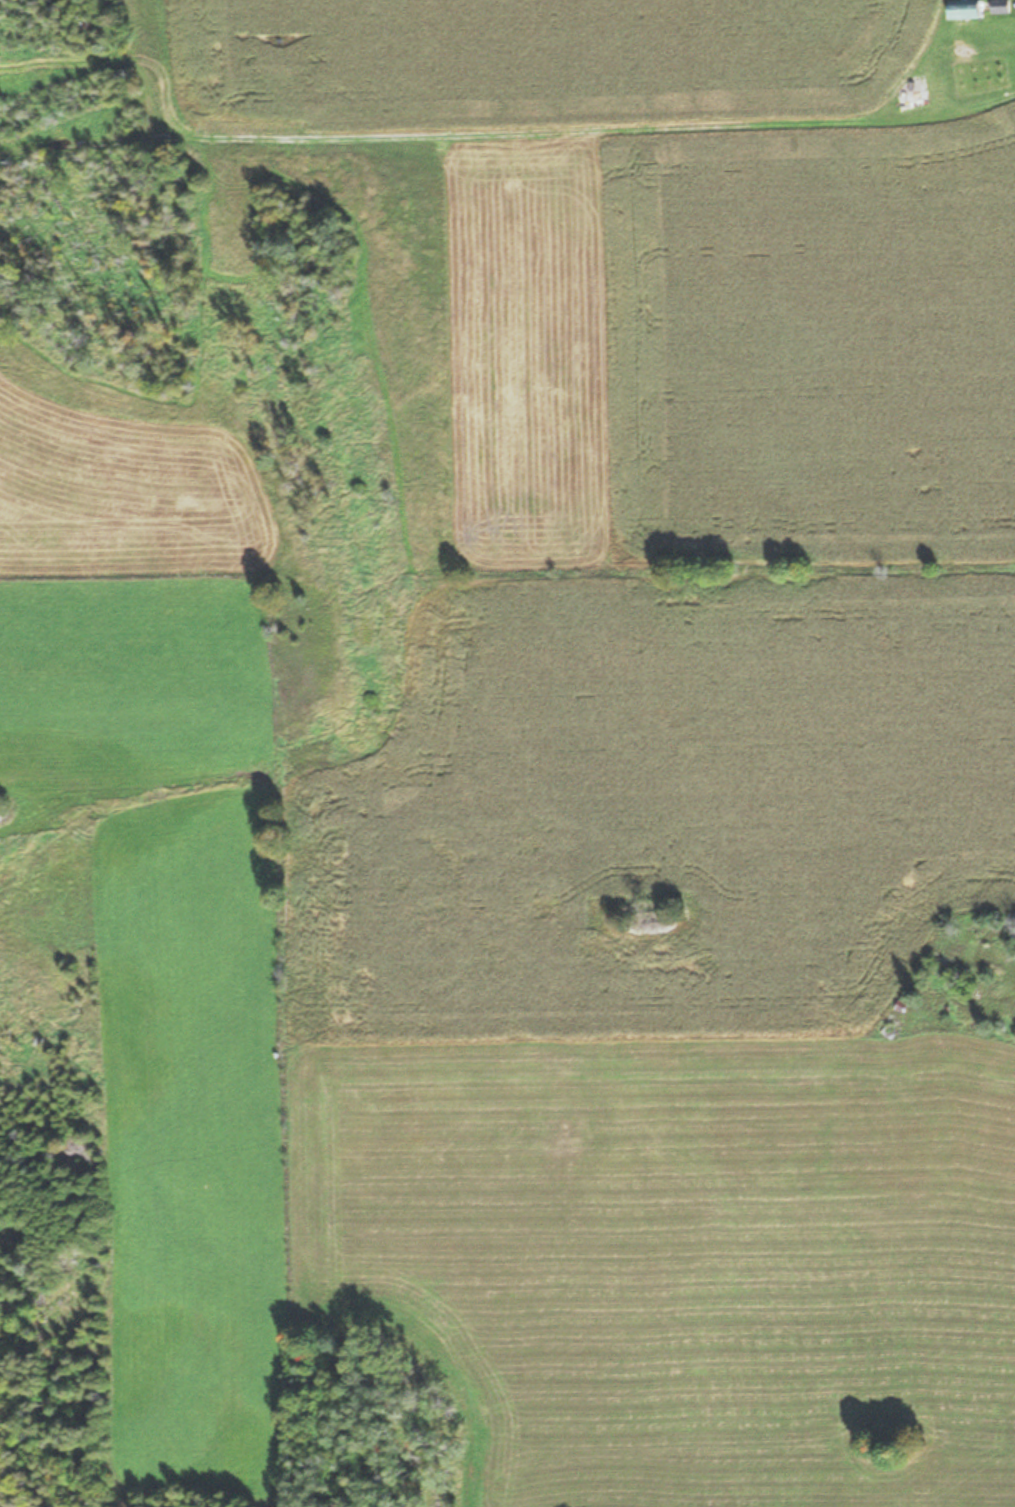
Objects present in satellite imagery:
building: (1000, 7)
building: (967, 9)
building: (901, 1005)
building: (888, 1031)

